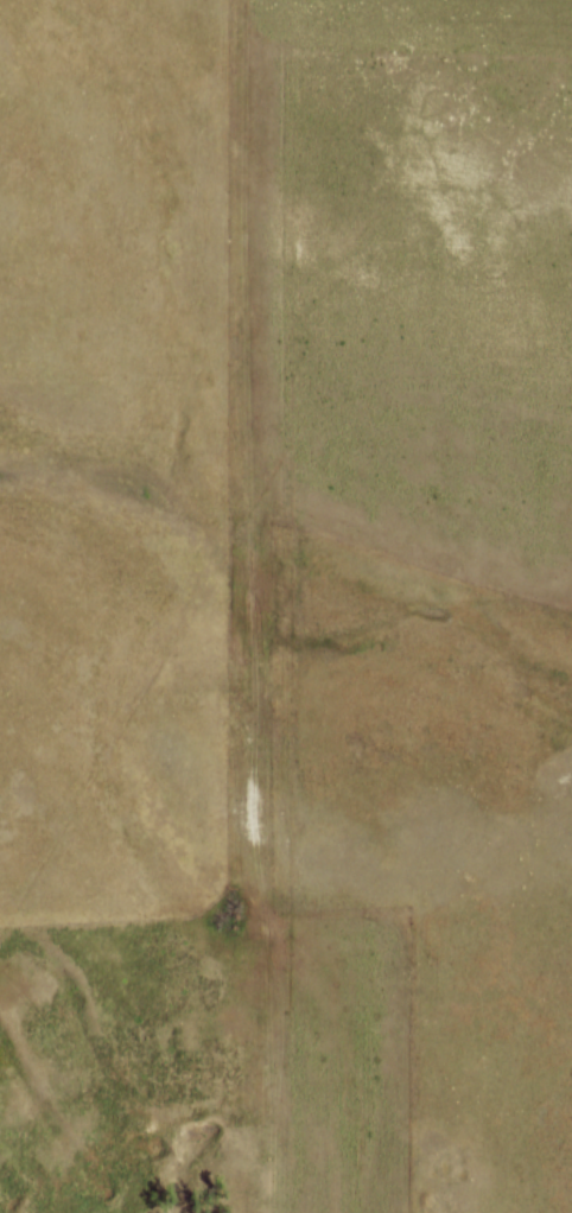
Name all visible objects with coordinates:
crop: (325, 1062)

